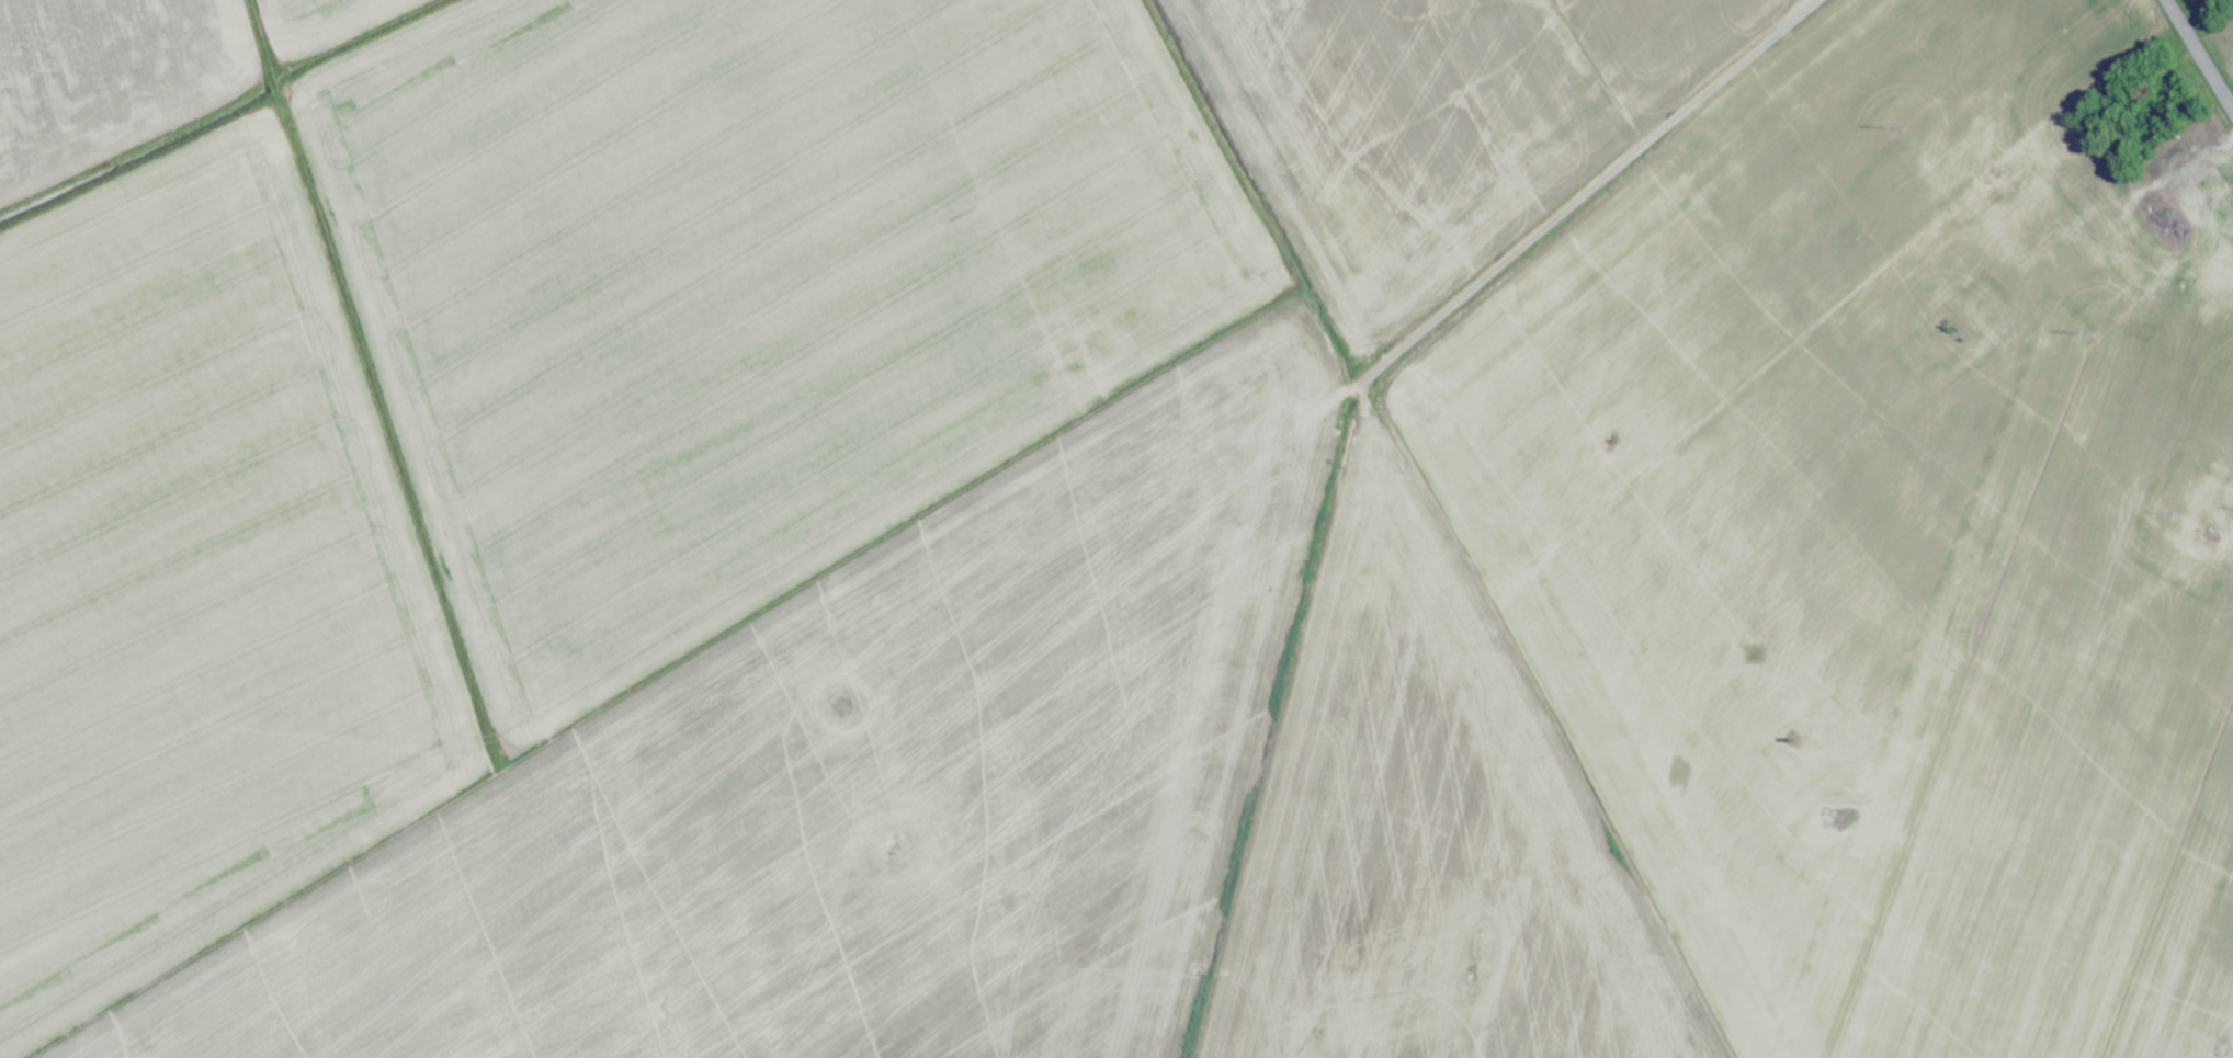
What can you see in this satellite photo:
road: (2199, 56)

